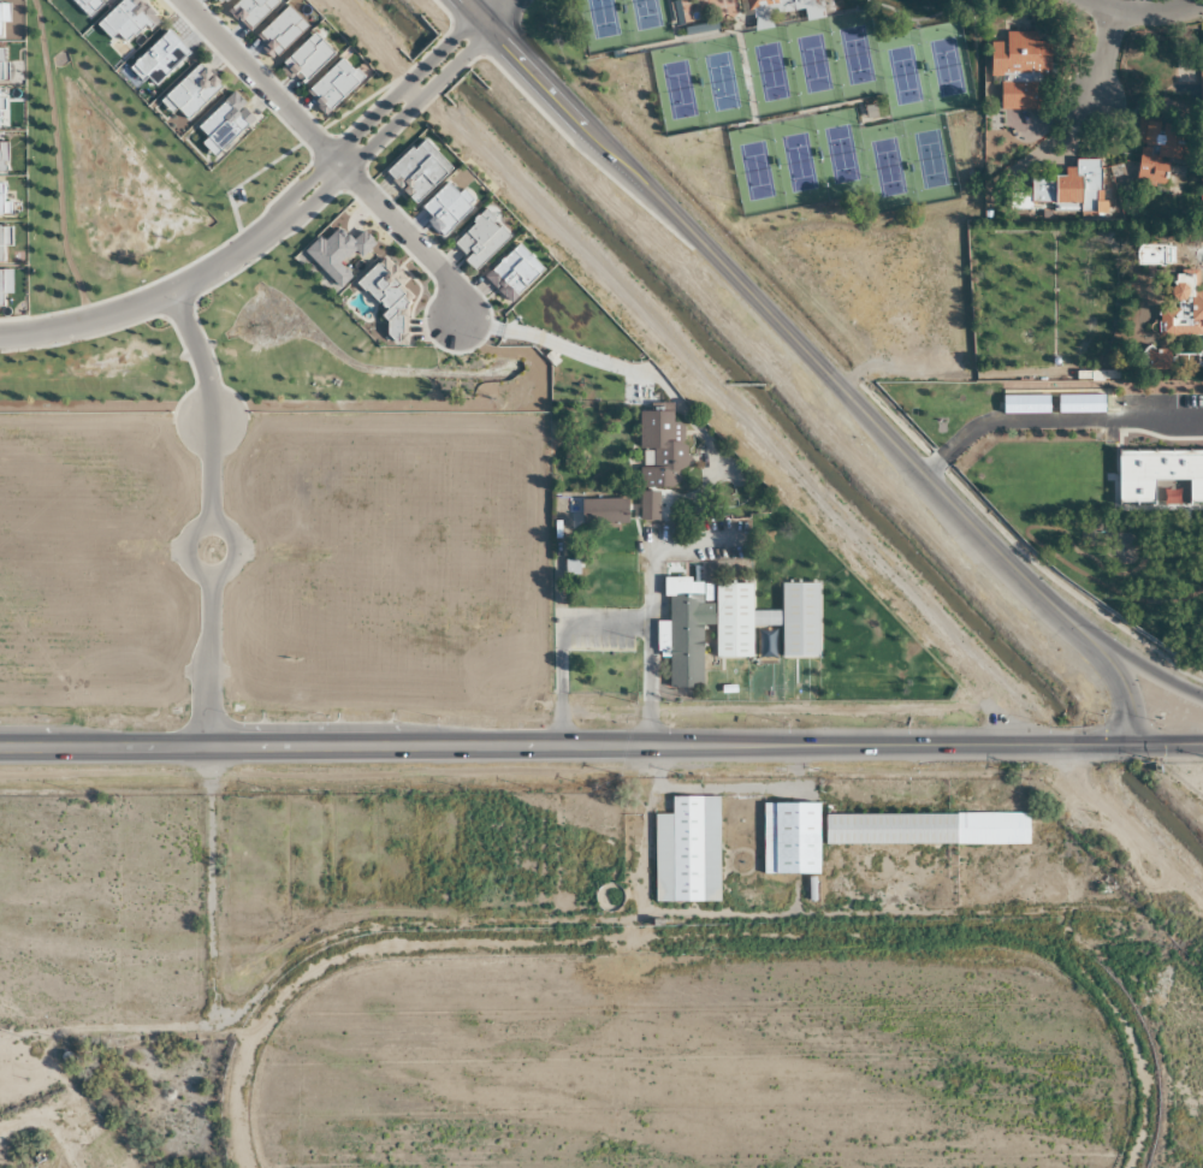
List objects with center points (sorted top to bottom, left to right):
building: (705, 0)
building: (906, 0)
building: (760, 2)
road: (1104, 5)
road: (499, 11)
road: (1160, 12)
park: (646, 20)
park: (601, 25)
road: (1104, 55)
park: (812, 61)
park: (924, 67)
building: (1018, 69)
park: (698, 85)
road: (414, 90)
road: (377, 111)
road: (392, 125)
building: (1158, 153)
road: (330, 154)
park: (795, 159)
park: (908, 159)
building: (1062, 191)
building: (1151, 255)
road: (152, 303)
building: (1181, 307)
road: (816, 363)
road: (743, 386)
parking lot: (1190, 403)
road: (209, 405)
road: (1051, 422)
building: (657, 460)
building: (603, 511)
road: (654, 552)
road: (223, 571)
building: (731, 624)
building: (764, 646)
road: (558, 647)
road: (1127, 657)
road: (209, 663)
road: (644, 687)
road: (1167, 743)
road: (1073, 746)
road: (508, 748)
building: (925, 829)
building: (788, 838)
building: (686, 852)
road: (1073, 931)
road: (532, 939)
road: (1044, 942)
road: (1138, 1065)

